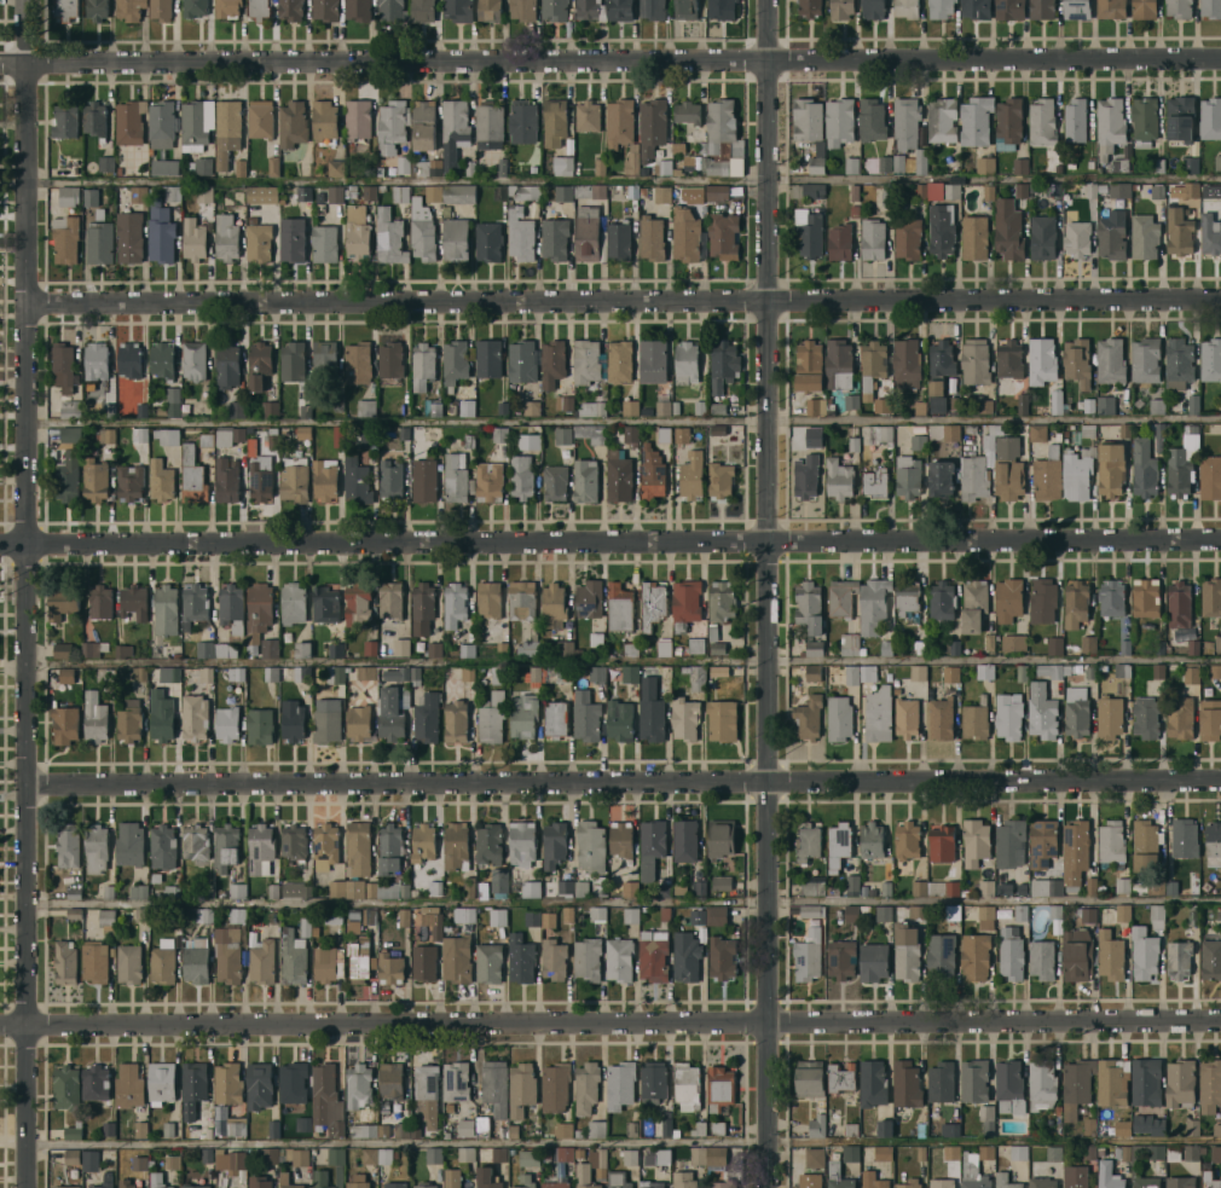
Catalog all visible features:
building: (196, 7)
building: (810, 7)
building: (68, 8)
building: (131, 8)
building: (227, 8)
building: (260, 8)
building: (687, 8)
building: (722, 8)
building: (841, 8)
building: (874, 8)
building: (907, 8)
building: (943, 8)
building: (977, 8)
building: (1112, 8)
building: (1145, 8)
building: (1180, 8)
building: (1211, 8)
building: (98, 10)
building: (162, 10)
building: (291, 10)
building: (326, 10)
building: (363, 10)
building: (459, 10)
building: (490, 10)
building: (523, 10)
building: (555, 10)
building: (592, 10)
building: (620, 10)
building: (655, 10)
building: (1012, 10)
building: (1043, 10)
building: (1078, 10)
building: (393, 11)
building: (423, 11)
road: (609, 59)
road: (609, 77)
building: (688, 112)
building: (589, 115)
building: (1181, 117)
building: (1211, 117)
building: (96, 118)
building: (261, 118)
building: (358, 118)
building: (65, 120)
building: (325, 120)
building: (873, 120)
building: (943, 120)
building: (1076, 120)
building: (523, 121)
building: (556, 121)
building: (840, 121)
building: (977, 121)
building: (1145, 121)
building: (131, 122)
building: (490, 122)
building: (620, 122)
building: (1009, 122)
building: (1043, 122)
building: (197, 123)
building: (293, 123)
building: (457, 123)
building: (162, 124)
building: (393, 124)
building: (424, 124)
building: (653, 126)
building: (1111, 126)
building: (723, 127)
building: (810, 129)
building: (910, 129)
building: (228, 131)
building: (679, 147)
road: (45, 152)
building: (632, 160)
building: (1217, 161)
building: (694, 162)
building: (899, 162)
building: (106, 163)
building: (885, 163)
building: (1071, 163)
building: (1090, 163)
building: (404, 164)
building: (563, 164)
building: (1121, 164)
building: (1157, 164)
building: (1191, 164)
building: (204, 166)
building: (274, 166)
building: (601, 166)
building: (661, 166)
building: (718, 166)
building: (852, 166)
building: (986, 166)
building: (1020, 166)
building: (166, 167)
building: (337, 167)
building: (427, 167)
building: (502, 167)
building: (1057, 167)
building: (242, 168)
building: (471, 168)
building: (372, 169)
building: (251, 172)
building: (646, 172)
building: (678, 172)
road: (624, 181)
building: (1032, 187)
building: (1054, 189)
building: (924, 190)
building: (937, 190)
building: (1022, 190)
building: (1092, 190)
building: (1119, 190)
building: (1192, 190)
building: (1211, 190)
building: (591, 191)
building: (633, 191)
building: (808, 191)
building: (953, 191)
building: (989, 191)
building: (1158, 191)
building: (371, 192)
building: (500, 192)
building: (528, 192)
building: (565, 192)
building: (644, 192)
building: (855, 192)
building: (173, 193)
building: (206, 193)
building: (238, 193)
building: (264, 193)
building: (305, 193)
building: (401, 193)
building: (434, 193)
building: (461, 193)
building: (662, 193)
building: (693, 193)
building: (717, 193)
building: (1136, 193)
building: (140, 195)
building: (336, 195)
building: (69, 196)
building: (886, 196)
building: (92, 197)
building: (855, 211)
building: (942, 230)
building: (1009, 230)
building: (161, 232)
building: (809, 232)
building: (1180, 232)
building: (359, 233)
building: (589, 233)
building: (1112, 233)
building: (1211, 233)
building: (521, 234)
building: (131, 236)
building: (724, 236)
building: (1043, 236)
building: (390, 237)
building: (908, 237)
building: (1078, 237)
building: (1147, 237)
building: (66, 238)
building: (195, 238)
building: (227, 238)
building: (556, 238)
building: (653, 238)
building: (687, 238)
building: (874, 238)
building: (976, 238)
building: (424, 239)
building: (457, 239)
building: (620, 239)
building: (490, 241)
building: (100, 242)
building: (259, 242)
building: (294, 242)
building: (840, 242)
building: (325, 243)
road: (624, 279)
road: (624, 302)
building: (131, 358)
building: (162, 358)
building: (490, 358)
building: (97, 359)
building: (326, 359)
building: (1011, 359)
building: (1146, 359)
building: (1180, 359)
building: (1211, 359)
building: (195, 360)
building: (523, 360)
building: (654, 360)
building: (1042, 360)
building: (1112, 360)
building: (294, 361)
building: (456, 361)
building: (554, 361)
building: (588, 361)
building: (620, 361)
building: (687, 361)
building: (976, 361)
building: (1078, 361)
building: (359, 363)
building: (392, 364)
building: (908, 364)
building: (228, 365)
building: (260, 365)
building: (423, 365)
building: (724, 365)
building: (839, 365)
building: (873, 365)
building: (65, 366)
building: (810, 366)
building: (941, 366)
building: (174, 401)
building: (852, 401)
building: (953, 401)
building: (1057, 401)
building: (1194, 401)
building: (338, 402)
building: (565, 402)
building: (1024, 404)
building: (1088, 404)
building: (881, 405)
building: (1106, 405)
building: (465, 406)
building: (631, 406)
building: (700, 406)
building: (817, 406)
building: (986, 406)
building: (1158, 406)
building: (160, 407)
building: (366, 407)
building: (503, 407)
building: (533, 407)
building: (644, 407)
building: (677, 407)
building: (719, 407)
building: (831, 407)
building: (71, 408)
building: (238, 408)
building: (271, 408)
building: (403, 408)
building: (433, 408)
building: (594, 408)
building: (664, 408)
building: (925, 408)
building: (110, 410)
building: (143, 410)
building: (306, 410)
building: (956, 412)
building: (185, 413)
road: (995, 421)
road: (398, 423)
building: (971, 428)
building: (1000, 429)
building: (718, 430)
building: (1089, 430)
building: (1125, 430)
building: (1161, 430)
building: (944, 431)
building: (305, 433)
building: (405, 433)
building: (592, 433)
building: (632, 433)
building: (815, 433)
building: (1038, 433)
building: (139, 434)
building: (272, 434)
building: (349, 434)
building: (502, 434)
building: (682, 434)
building: (880, 434)
building: (106, 435)
building: (168, 435)
building: (563, 435)
building: (665, 435)
building: (231, 436)
building: (338, 436)
building: (369, 436)
building: (1059, 436)
building: (855, 439)
building: (207, 440)
building: (469, 440)
building: (530, 441)
building: (919, 442)
building: (273, 444)
building: (53, 453)
building: (1185, 465)
building: (69, 466)
building: (1009, 468)
building: (1112, 468)
building: (1145, 468)
building: (979, 470)
building: (653, 473)
building: (1078, 473)
building: (1048, 474)
building: (193, 476)
building: (522, 476)
building: (619, 476)
building: (693, 476)
building: (806, 476)
building: (909, 476)
building: (261, 477)
building: (458, 477)
building: (942, 477)
building: (1211, 477)
building: (96, 479)
building: (295, 479)
building: (326, 479)
building: (426, 479)
building: (722, 479)
building: (840, 479)
building: (162, 480)
building: (227, 480)
building: (357, 480)
building: (392, 480)
building: (586, 480)
building: (131, 481)
building: (490, 481)
building: (556, 481)
building: (876, 483)
road: (610, 543)
road: (28, 593)
road: (768, 593)
building: (843, 597)
building: (908, 597)
building: (1112, 597)
building: (1147, 597)
building: (1211, 597)
building: (590, 598)
building: (490, 599)
building: (522, 599)
building: (1009, 599)
building: (1043, 599)
building: (392, 601)
building: (723, 601)
building: (942, 601)
building: (63, 602)
building: (102, 602)
building: (134, 602)
building: (294, 602)
building: (1077, 602)
building: (359, 603)
building: (687, 603)
building: (326, 604)
building: (455, 604)
building: (653, 604)
building: (874, 604)
building: (974, 604)
building: (1180, 604)
building: (555, 605)
building: (810, 605)
building: (195, 607)
building: (232, 607)
building: (620, 607)
building: (423, 608)
building: (167, 609)
building: (259, 610)
building: (714, 633)
building: (597, 638)
building: (990, 642)
building: (1014, 642)
building: (1217, 643)
building: (531, 644)
building: (850, 644)
building: (1089, 644)
building: (698, 645)
building: (1055, 645)
building: (371, 647)
building: (395, 647)
building: (921, 647)
building: (955, 647)
building: (1127, 647)
building: (1194, 647)
building: (94, 648)
building: (271, 648)
building: (565, 648)
building: (665, 648)
building: (719, 648)
building: (814, 648)
building: (887, 648)
building: (1162, 648)
building: (206, 649)
building: (226, 649)
building: (302, 649)
building: (434, 649)
building: (503, 649)
building: (632, 649)
building: (63, 650)
building: (123, 650)
building: (337, 650)
building: (468, 650)
building: (678, 650)
building: (864, 650)
road: (624, 661)
building: (1067, 670)
building: (1123, 670)
building: (721, 671)
building: (1057, 671)
building: (1158, 671)
building: (1215, 671)
building: (814, 672)
building: (869, 672)
building: (919, 672)
building: (986, 672)
building: (1092, 672)
building: (139, 673)
building: (241, 673)
building: (272, 673)
building: (296, 673)
building: (368, 673)
building: (394, 673)
building: (469, 673)
building: (557, 673)
building: (598, 673)
building: (852, 673)
building: (953, 673)
building: (1023, 673)
building: (1192, 673)
building: (169, 674)
building: (207, 674)
building: (500, 674)
building: (631, 674)
building: (68, 676)
building: (338, 676)
building: (417, 676)
building: (534, 676)
building: (612, 677)
building: (696, 677)
building: (889, 677)
building: (934, 685)
building: (652, 711)
building: (1043, 712)
building: (1077, 712)
building: (392, 713)
building: (880, 714)
building: (162, 715)
building: (525, 715)
building: (586, 715)
building: (1009, 715)
building: (96, 717)
building: (196, 717)
building: (428, 717)
building: (492, 717)
building: (809, 717)
building: (907, 717)
building: (1111, 717)
building: (1181, 717)
building: (685, 718)
building: (840, 718)
building: (942, 718)
building: (1147, 718)
building: (556, 719)
building: (1210, 719)
building: (131, 720)
building: (328, 720)
building: (457, 720)
building: (620, 720)
building: (723, 720)
building: (977, 720)
building: (65, 724)
building: (227, 724)
building: (294, 724)
building: (360, 724)
building: (260, 725)
road: (624, 783)
building: (722, 838)
building: (1185, 838)
building: (621, 839)
building: (685, 840)
building: (873, 840)
building: (908, 840)
building: (163, 841)
building: (976, 841)
building: (1112, 841)
building: (295, 842)
building: (424, 842)
building: (492, 842)
building: (522, 842)
building: (808, 842)
building: (1011, 842)
building: (1043, 842)
building: (131, 844)
building: (196, 844)
building: (555, 844)
building: (840, 844)
building: (942, 844)
building: (1214, 844)
building: (69, 845)
building: (226, 846)
building: (326, 846)
building: (457, 846)
building: (591, 846)
building: (359, 847)
building: (390, 847)
building: (652, 847)
building: (1145, 847)
building: (97, 848)
building: (261, 848)
building: (1076, 852)
building: (499, 883)
building: (723, 883)
building: (699, 885)
building: (853, 885)
building: (469, 886)
building: (566, 886)
building: (1092, 886)
building: (1123, 886)
building: (1157, 886)
building: (438, 887)
building: (986, 887)
building: (1047, 887)
building: (1173, 887)
building: (337, 888)
building: (355, 888)
building: (532, 888)
building: (581, 888)
building: (631, 888)
building: (681, 888)
building: (814, 888)
building: (887, 888)
building: (920, 888)
building: (944, 888)
building: (296, 889)
building: (372, 889)
building: (394, 889)
building: (665, 889)
building: (109, 891)
building: (139, 891)
building: (238, 891)
building: (273, 891)
building: (834, 891)
building: (864, 891)
building: (872, 891)
building: (175, 892)
building: (75, 893)
road: (624, 902)
building: (812, 911)
building: (866, 911)
building: (919, 911)
building: (598, 912)
building: (666, 912)
building: (852, 912)
building: (884, 912)
building: (954, 912)
building: (1022, 912)
building: (1124, 912)
building: (74, 914)
building: (459, 914)
building: (469, 914)
building: (568, 914)
building: (840, 914)
building: (1219, 914)
building: (141, 915)
building: (206, 915)
building: (238, 915)
building: (631, 915)
building: (1089, 915)
building: (1194, 915)
building: (334, 916)
building: (370, 916)
building: (499, 916)
building: (699, 916)
building: (718, 916)
building: (986, 916)
building: (1158, 916)
building: (405, 917)
building: (533, 917)
building: (549, 918)
building: (1057, 918)
building: (109, 921)
building: (434, 921)
building: (306, 927)
building: (907, 951)
building: (1145, 952)
building: (228, 954)
building: (942, 954)
building: (654, 955)
building: (809, 955)
building: (1012, 955)
building: (1078, 955)
building: (1111, 955)
building: (687, 956)
building: (976, 956)
building: (294, 957)
building: (458, 957)
building: (723, 957)
building: (1211, 957)
building: (521, 958)
building: (554, 958)
building: (589, 958)
building: (841, 958)
building: (1044, 958)
building: (620, 960)
building: (1179, 960)
building: (96, 961)
building: (197, 961)
building: (424, 961)
building: (875, 961)
building: (66, 962)
building: (164, 962)
building: (262, 962)
building: (359, 962)
building: (490, 962)
building: (129, 963)
building: (329, 963)
building: (390, 967)
road: (610, 1024)
building: (841, 1077)
building: (392, 1079)
building: (976, 1079)
building: (162, 1082)
building: (294, 1082)
building: (457, 1082)
building: (654, 1082)
building: (942, 1082)
building: (1113, 1082)
building: (1147, 1082)
building: (97, 1083)
building: (228, 1083)
building: (874, 1083)
building: (1181, 1083)
building: (908, 1084)
building: (1042, 1084)
building: (131, 1085)
building: (260, 1085)
building: (359, 1085)
building: (620, 1085)
building: (688, 1085)
building: (1077, 1085)
building: (1210, 1085)
building: (195, 1086)
building: (556, 1086)
building: (588, 1086)
building: (66, 1088)
building: (721, 1088)
building: (1011, 1088)
building: (522, 1089)
building: (814, 1091)
building: (498, 1094)
building: (427, 1099)
building: (328, 1100)
building: (1059, 1109)
building: (834, 1115)
building: (988, 1118)
building: (307, 1124)
building: (667, 1124)
building: (1150, 1124)
building: (237, 1125)
building: (1089, 1125)
building: (484, 1126)
building: (1193, 1126)
building: (110, 1128)
building: (467, 1128)
building: (632, 1128)
building: (719, 1128)
building: (886, 1128)
building: (1123, 1128)
building: (141, 1129)
building: (169, 1129)
building: (274, 1129)
building: (563, 1129)
building: (597, 1129)
building: (699, 1129)
building: (852, 1129)
building: (921, 1129)
building: (951, 1129)
building: (1217, 1129)
building: (365, 1130)
building: (384, 1130)
building: (403, 1130)
building: (74, 1132)
building: (579, 1132)
building: (677, 1132)
building: (291, 1134)
road: (995, 1142)
road: (397, 1146)
building: (1204, 1149)
building: (283, 1152)
building: (986, 1152)
building: (1019, 1152)
building: (1090, 1152)
building: (1157, 1152)
building: (1192, 1152)
building: (499, 1153)
building: (565, 1153)
building: (852, 1153)
building: (884, 1153)
building: (922, 1153)
building: (951, 1153)
building: (1055, 1153)
building: (1127, 1153)
building: (1216, 1153)
building: (468, 1154)
building: (548, 1154)
building: (1174, 1154)
building: (208, 1155)
building: (271, 1155)
building: (337, 1155)
building: (371, 1155)
building: (387, 1155)
building: (435, 1155)
building: (700, 1155)
building: (718, 1155)
building: (73, 1157)
building: (301, 1157)
building: (630, 1157)
building: (658, 1157)
building: (530, 1158)
building: (231, 1159)
building: (598, 1159)
building: (91, 1160)
building: (174, 1161)
building: (816, 1161)
building: (140, 1163)
building: (974, 1172)
building: (585, 1176)
building: (839, 1176)
building: (1002, 1176)
building: (1077, 1176)
building: (1109, 1176)
building: (322, 1177)
building: (453, 1178)
building: (488, 1178)
building: (158, 1180)
building: (619, 1180)
building: (684, 1180)
building: (874, 1180)
building: (1210, 1180)
building: (105, 1181)
building: (288, 1181)
building: (359, 1181)
building: (525, 1181)
building: (260, 1182)
building: (1042, 1182)
building: (1147, 1182)
building: (1181, 1182)
building: (127, 1183)
building: (723, 1183)
building: (810, 1183)
building: (909, 1183)
building: (943, 1183)
building: (397, 1184)
building: (426, 1184)
building: (556, 1184)
building: (652, 1184)
building: (197, 1186)
building: (66, 1187)

